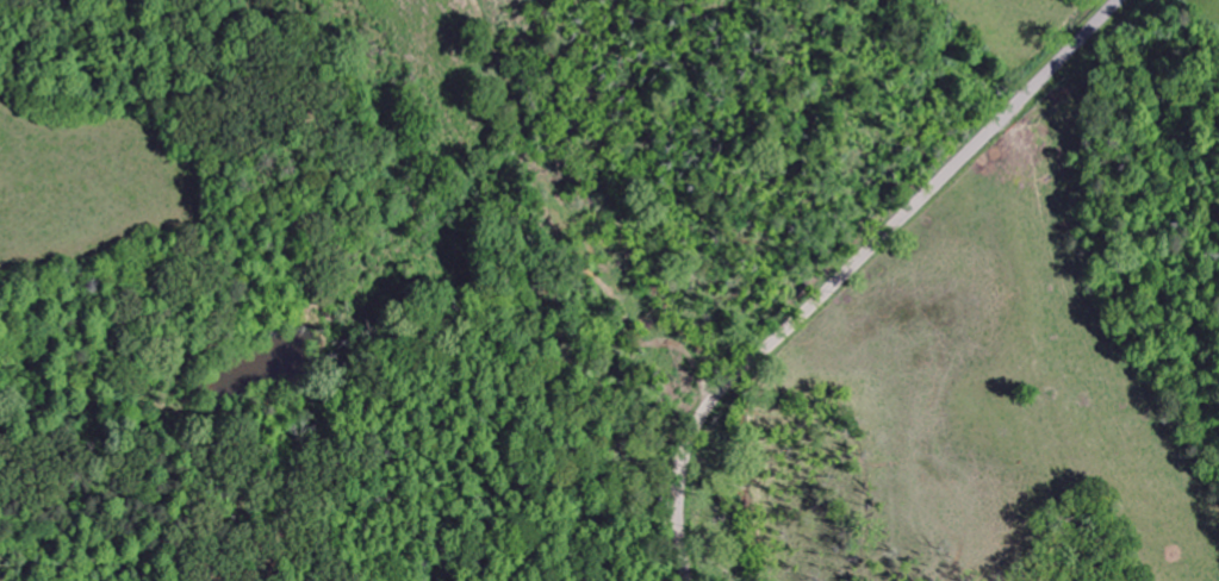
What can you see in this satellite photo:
road: (852, 268)

